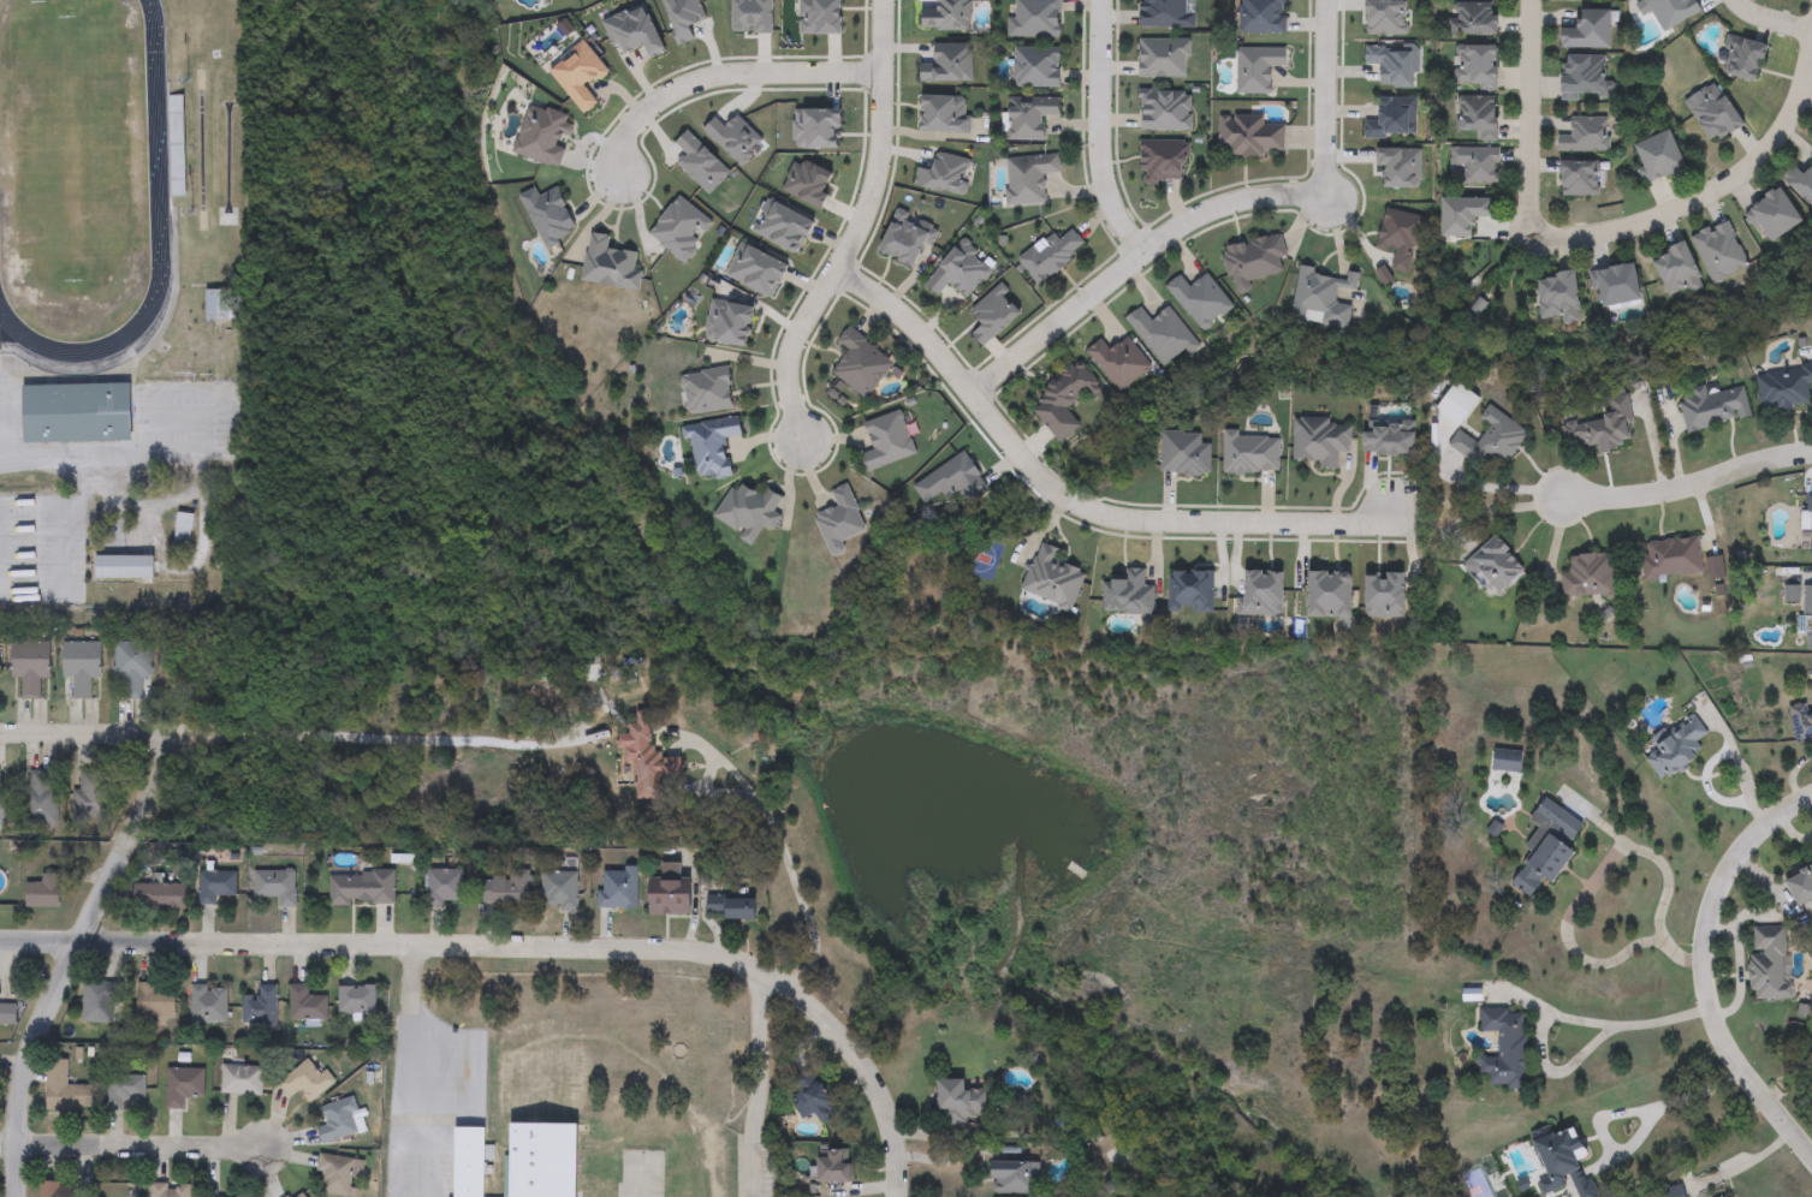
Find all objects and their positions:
building: (1671, 11)
building: (1168, 14)
building: (947, 16)
building: (1263, 17)
building: (1035, 19)
building: (1473, 19)
road: (1769, 20)
building: (1590, 28)
building: (1164, 58)
building: (1743, 58)
building: (950, 64)
building: (1391, 65)
building: (1478, 66)
building: (1038, 67)
building: (1258, 69)
road: (720, 72)
building: (580, 76)
building: (1585, 77)
road: (1325, 99)
building: (1165, 111)
building: (1713, 113)
building: (1030, 117)
building: (1478, 117)
building: (1392, 119)
road: (1529, 120)
road: (1098, 135)
building: (1252, 136)
building: (1587, 136)
building: (1659, 157)
building: (1163, 161)
building: (1477, 165)
building: (1580, 178)
building: (1028, 179)
building: (1801, 181)
road: (1707, 196)
building: (1465, 214)
building: (1775, 215)
road: (859, 230)
building: (1400, 238)
building: (1719, 251)
building: (1051, 255)
building: (1254, 261)
building: (611, 264)
road: (1135, 266)
building: (1679, 272)
building: (1620, 285)
building: (1559, 297)
building: (1324, 298)
building: (1201, 299)
building: (224, 305)
building: (1163, 334)
building: (1121, 362)
building: (861, 364)
building: (1784, 388)
building: (708, 391)
building: (1064, 404)
building: (1458, 405)
building: (1713, 409)
building: (77, 413)
building: (1604, 427)
building: (1321, 441)
building: (1491, 441)
building: (887, 442)
building: (712, 446)
building: (1250, 453)
road: (54, 461)
road: (1689, 481)
road: (1495, 486)
road: (1067, 501)
building: (749, 511)
building: (1810, 518)
building: (840, 522)
building: (182, 529)
building: (1671, 559)
building: (124, 567)
building: (1493, 567)
building: (1588, 577)
building: (1052, 579)
building: (1128, 595)
building: (1807, 619)
building: (30, 666)
building: (81, 666)
building: (132, 666)
building: (1801, 722)
road: (82, 733)
building: (1676, 748)
building: (646, 760)
building: (1507, 761)
road: (702, 780)
road: (723, 792)
building: (94, 797)
building: (41, 799)
building: (2, 809)
road: (777, 839)
building: (1546, 847)
road: (1603, 862)
building: (274, 886)
building: (215, 887)
building: (1801, 887)
building: (445, 888)
building: (362, 889)
building: (619, 889)
building: (507, 891)
building: (43, 892)
building: (559, 892)
building: (160, 897)
building: (671, 898)
building: (732, 905)
road: (522, 945)
road: (64, 957)
building: (1769, 965)
road: (1709, 969)
building: (95, 1000)
building: (155, 1001)
building: (357, 1002)
building: (305, 1005)
building: (208, 1006)
building: (259, 1007)
building: (7, 1014)
road: (1564, 1018)
building: (1505, 1049)
road: (404, 1070)
building: (240, 1080)
building: (305, 1080)
road: (755, 1084)
building: (183, 1086)
building: (65, 1090)
building: (125, 1090)
building: (813, 1098)
building: (961, 1101)
road: (1623, 1112)
building: (338, 1120)
road: (131, 1144)
road: (427, 1154)
building: (543, 1160)
building: (1566, 1161)
building: (469, 1162)
road: (1745, 1163)
building: (836, 1167)
building: (337, 1174)
building: (1017, 1179)
building: (55, 1190)
building: (119, 1191)
building: (170, 1191)
building: (297, 1195)

